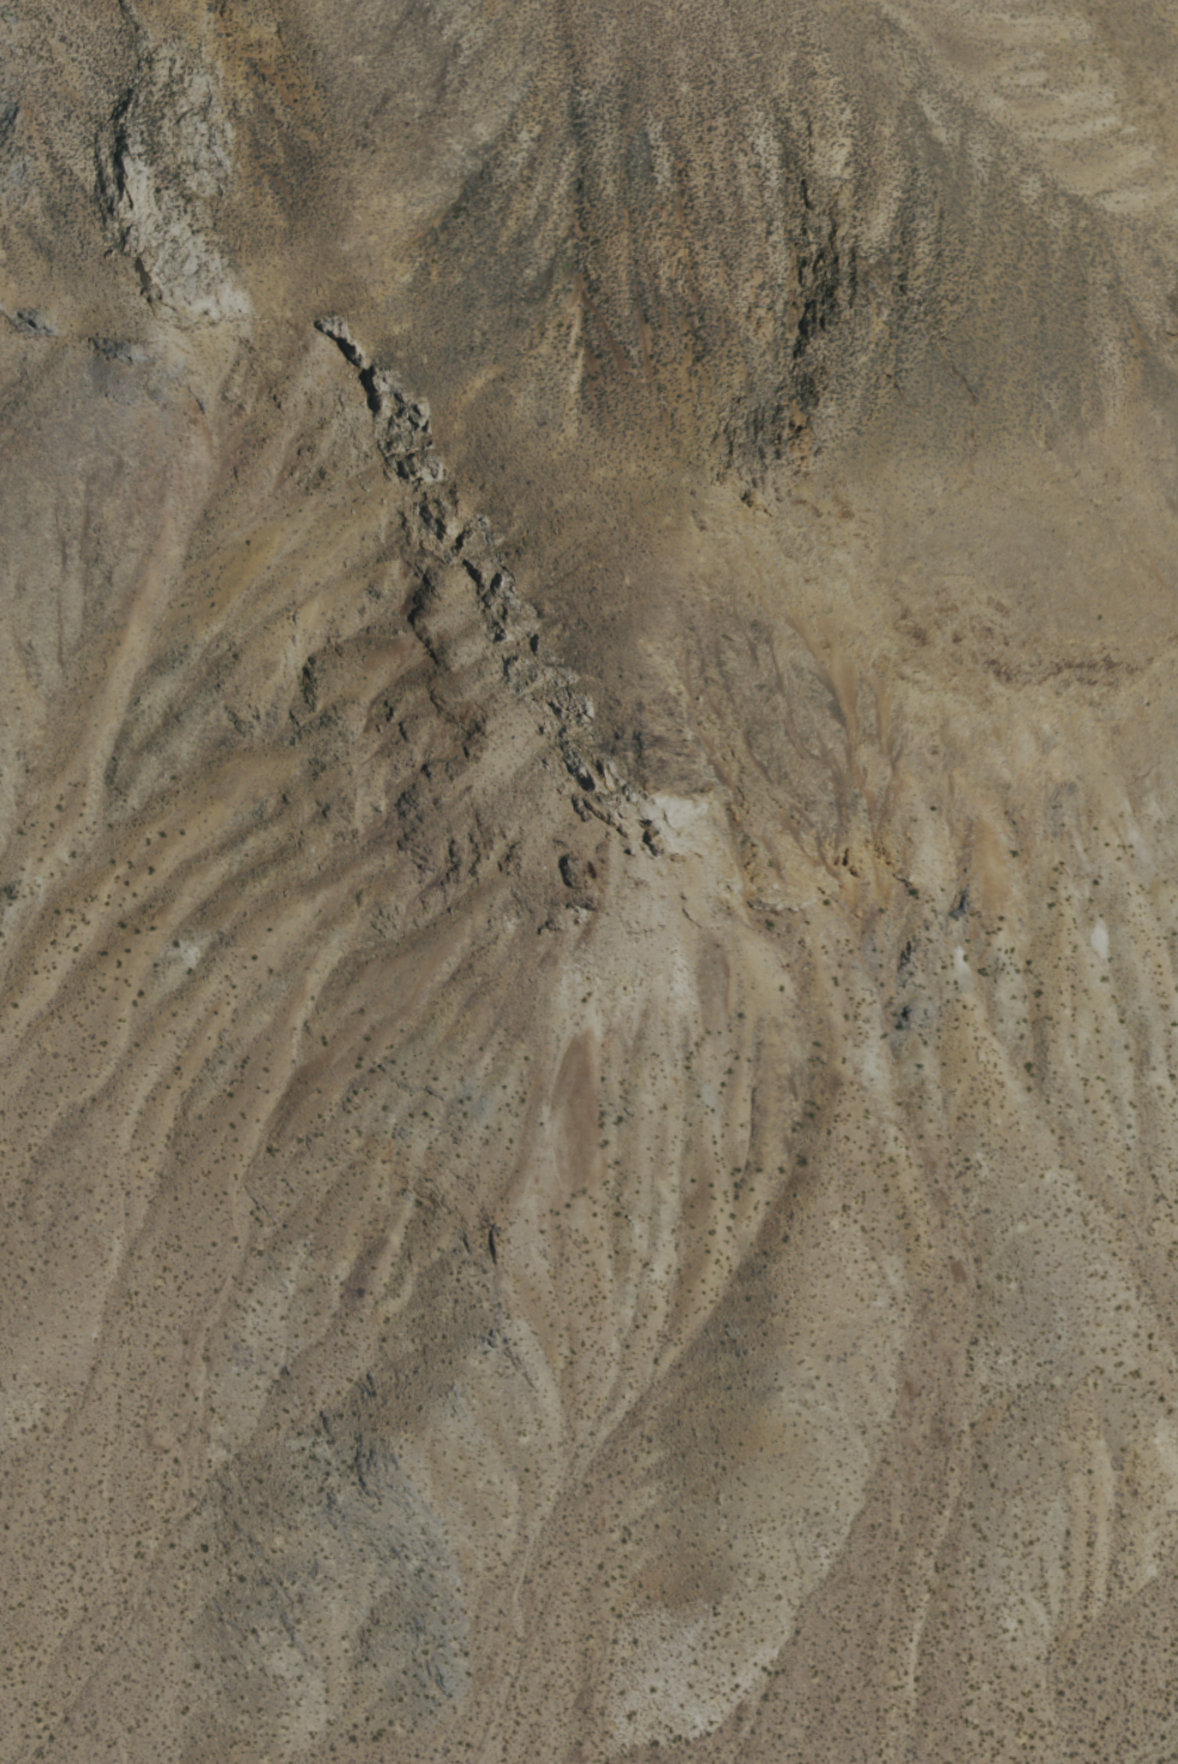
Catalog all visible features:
road: (1159, 1743)
road: (1159, 1754)

